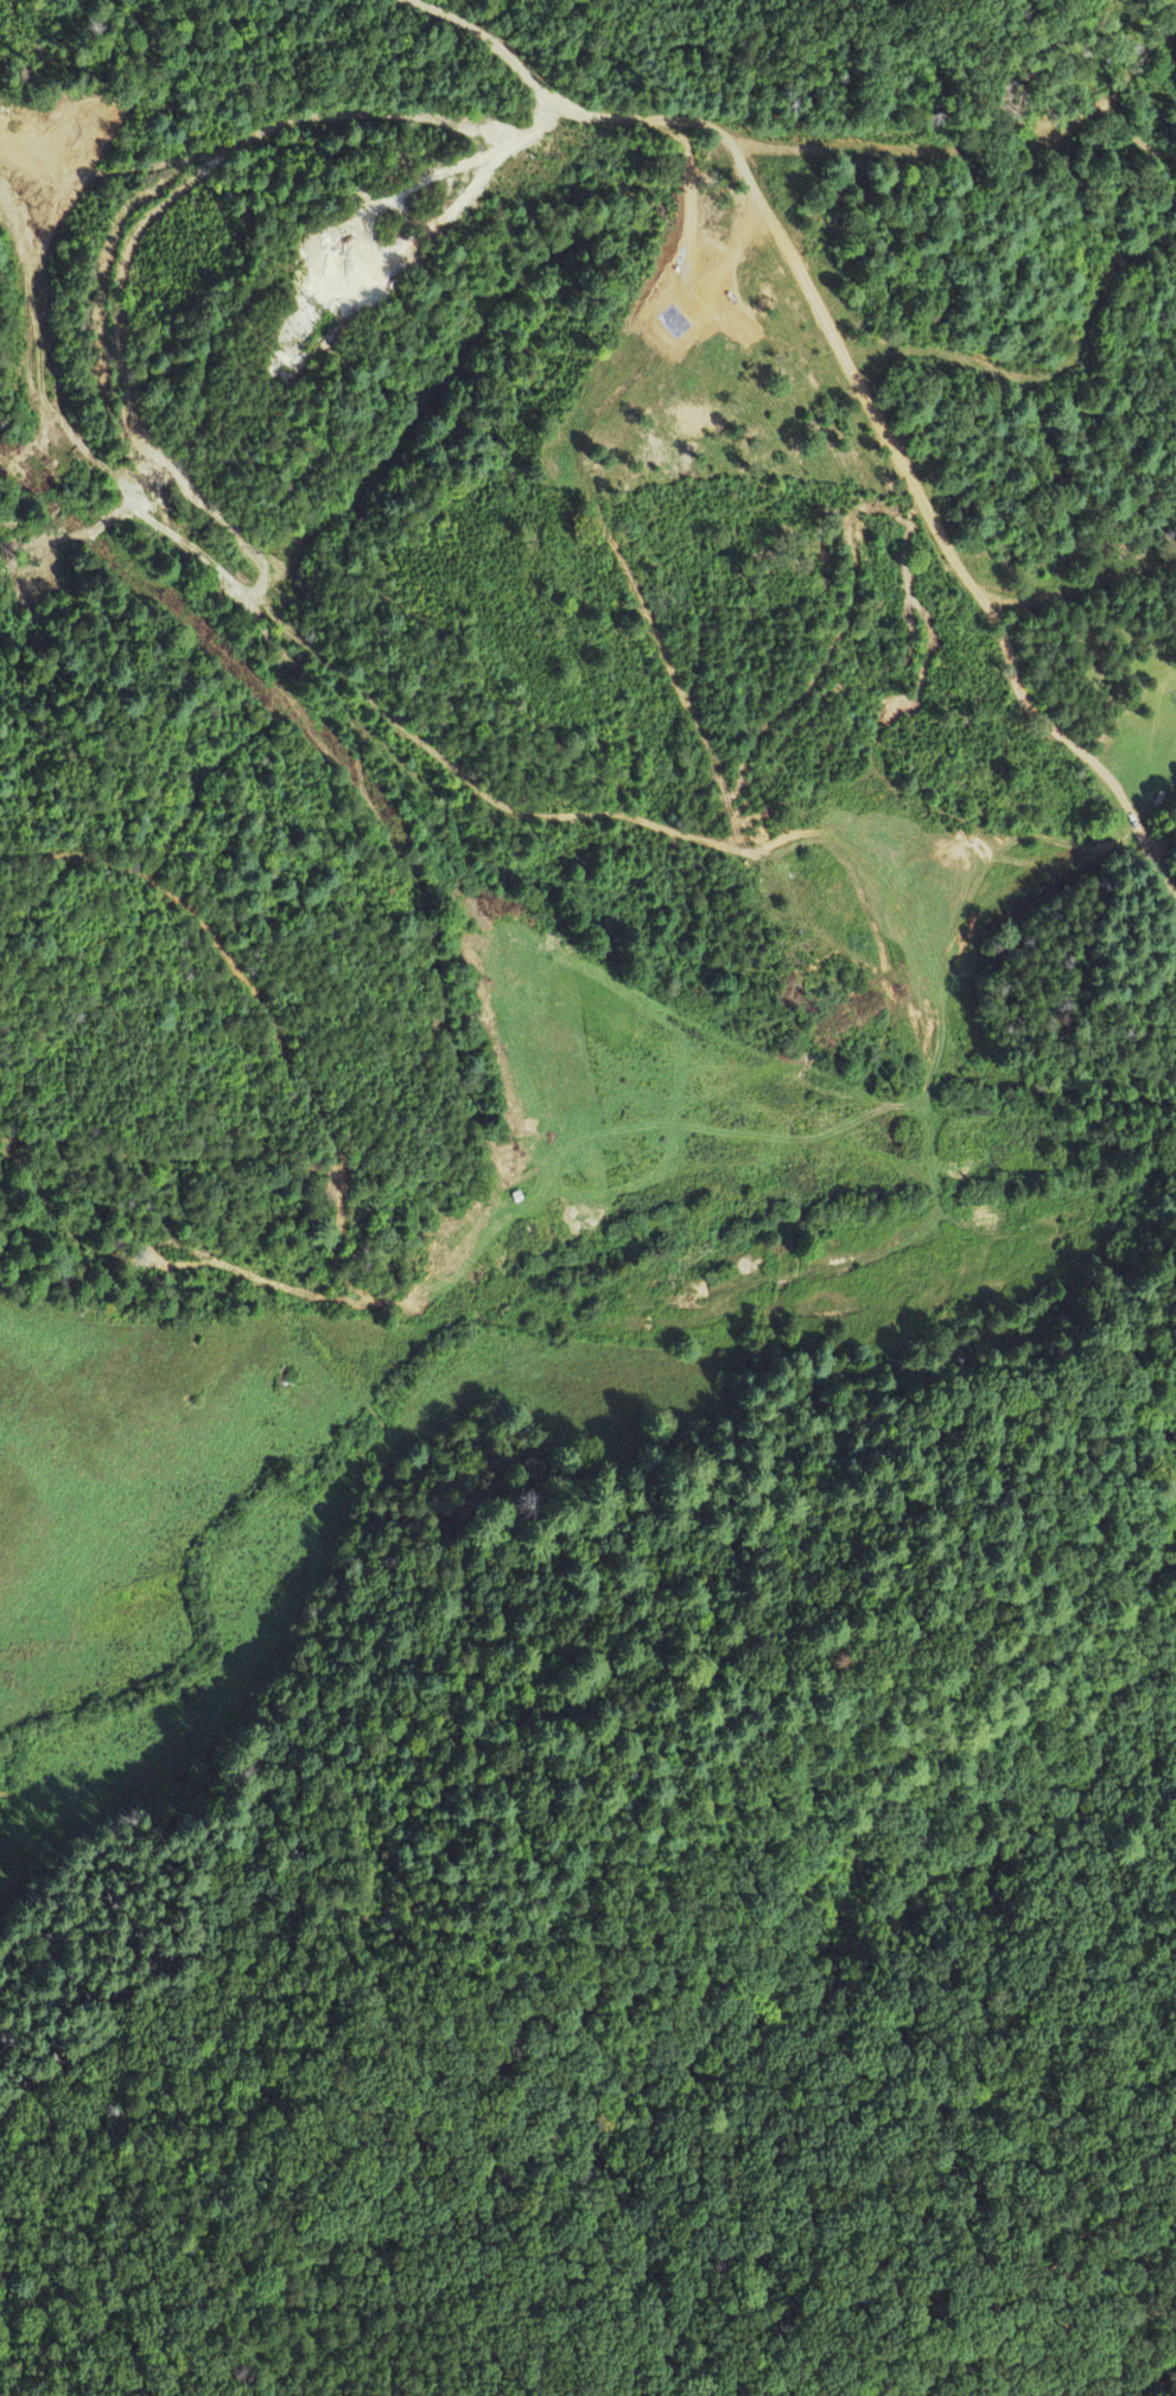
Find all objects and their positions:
road: (66, 413)
road: (649, 877)
road: (462, 960)

